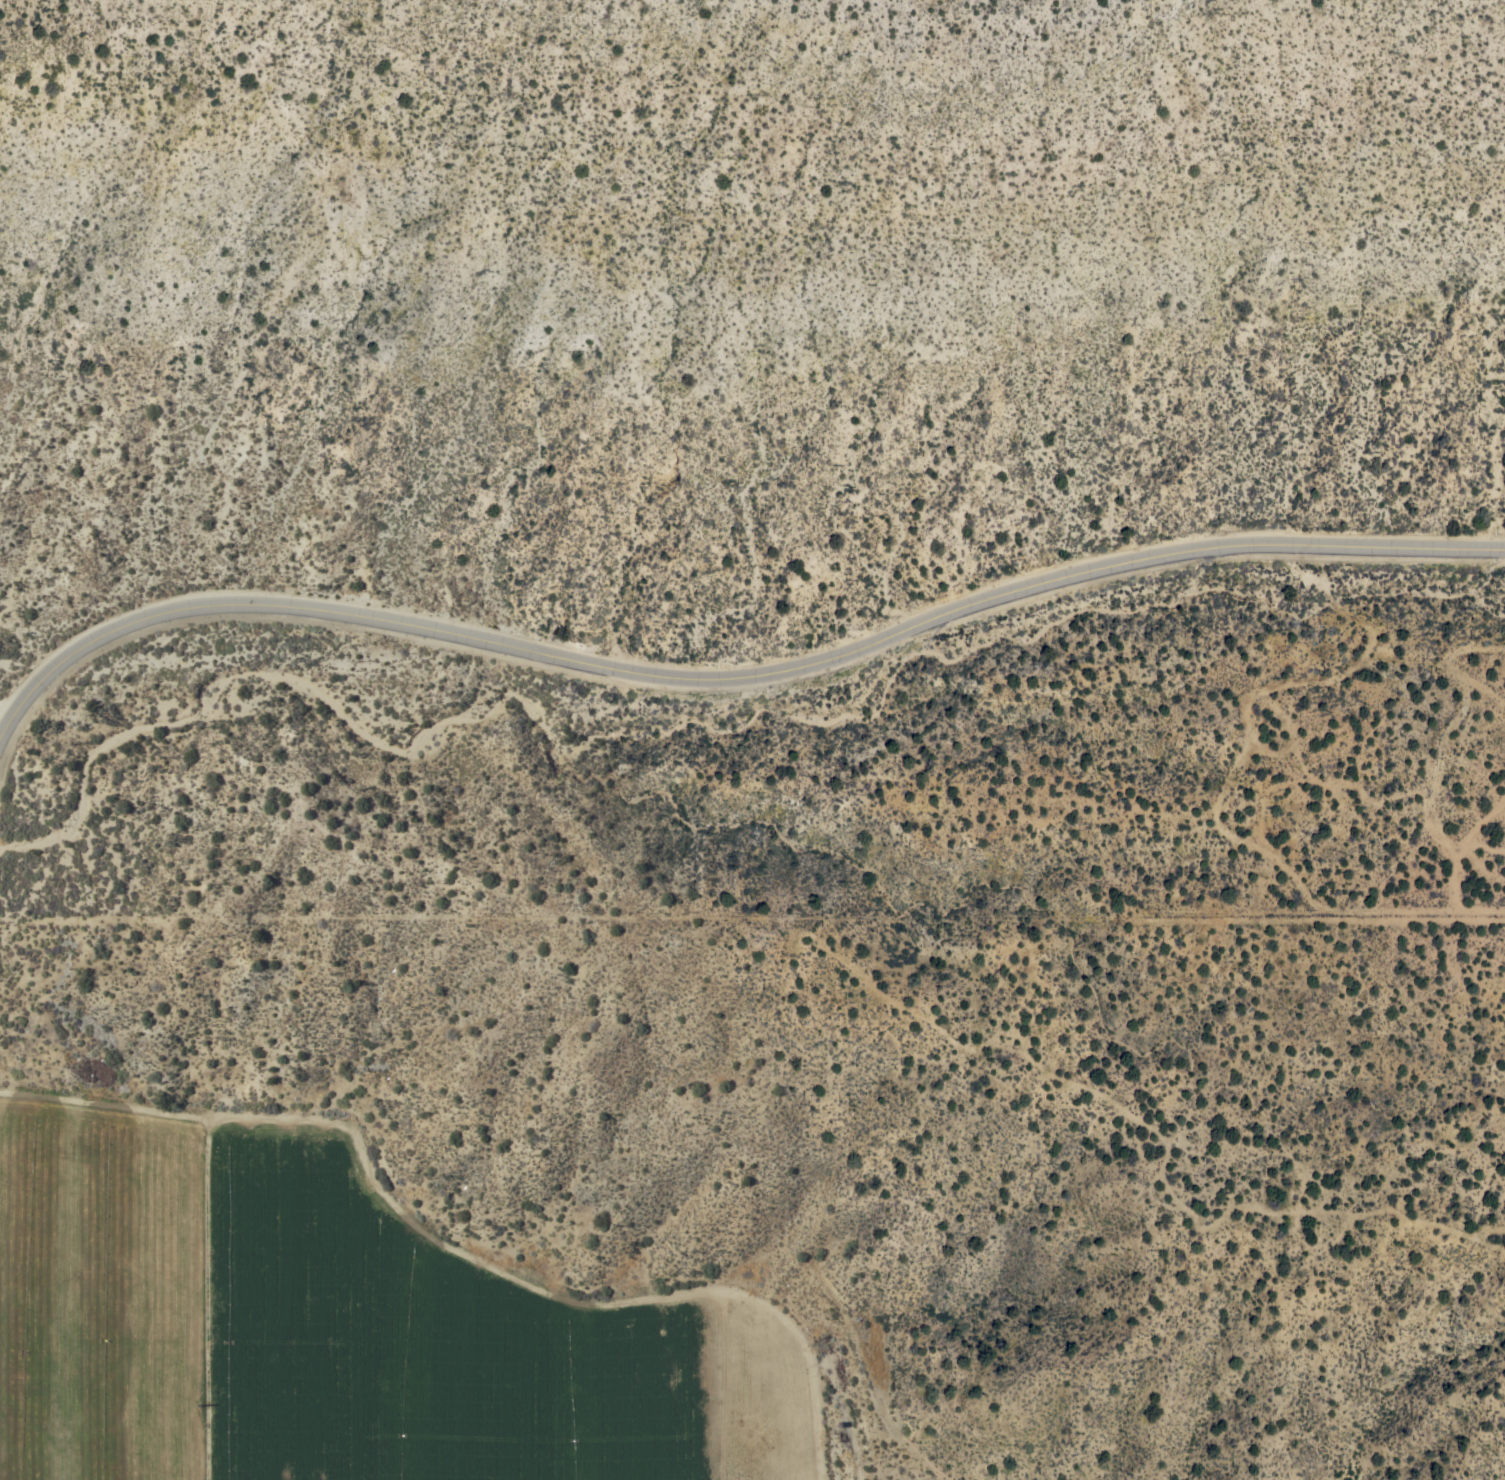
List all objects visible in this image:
road: (733, 674)
road: (9, 711)
crop: (332, 1328)

